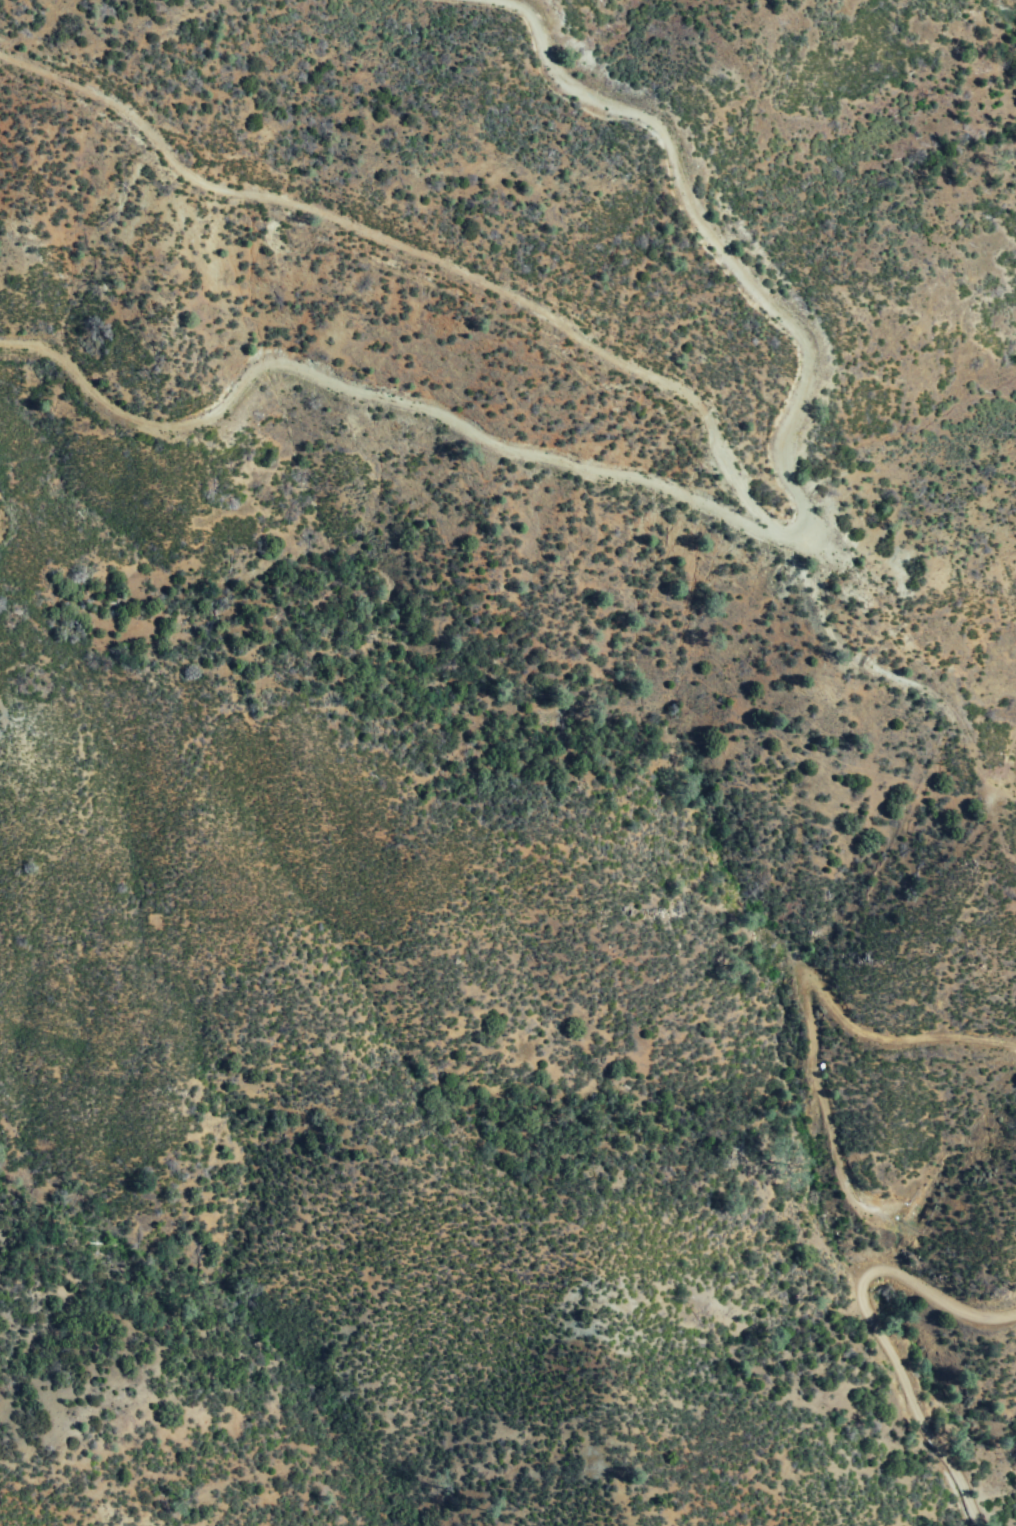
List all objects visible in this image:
road: (863, 1323)

